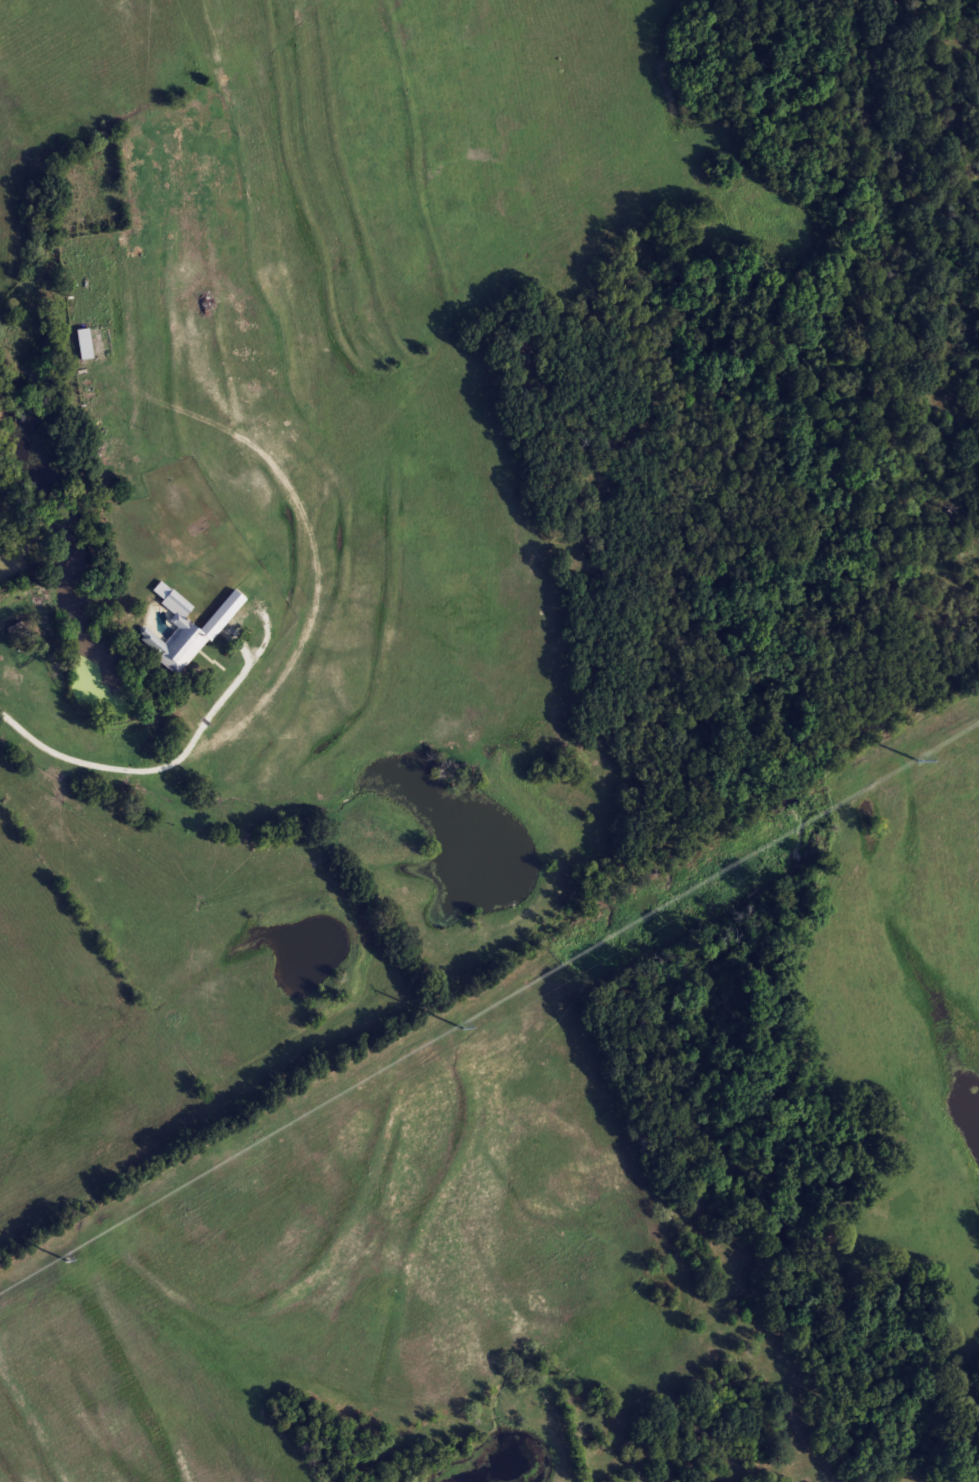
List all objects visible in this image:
building: (82, 343)
building: (173, 635)
building: (17, 636)
road: (234, 670)
power tower: (918, 760)
power tower: (463, 1028)
power tower: (67, 1259)

